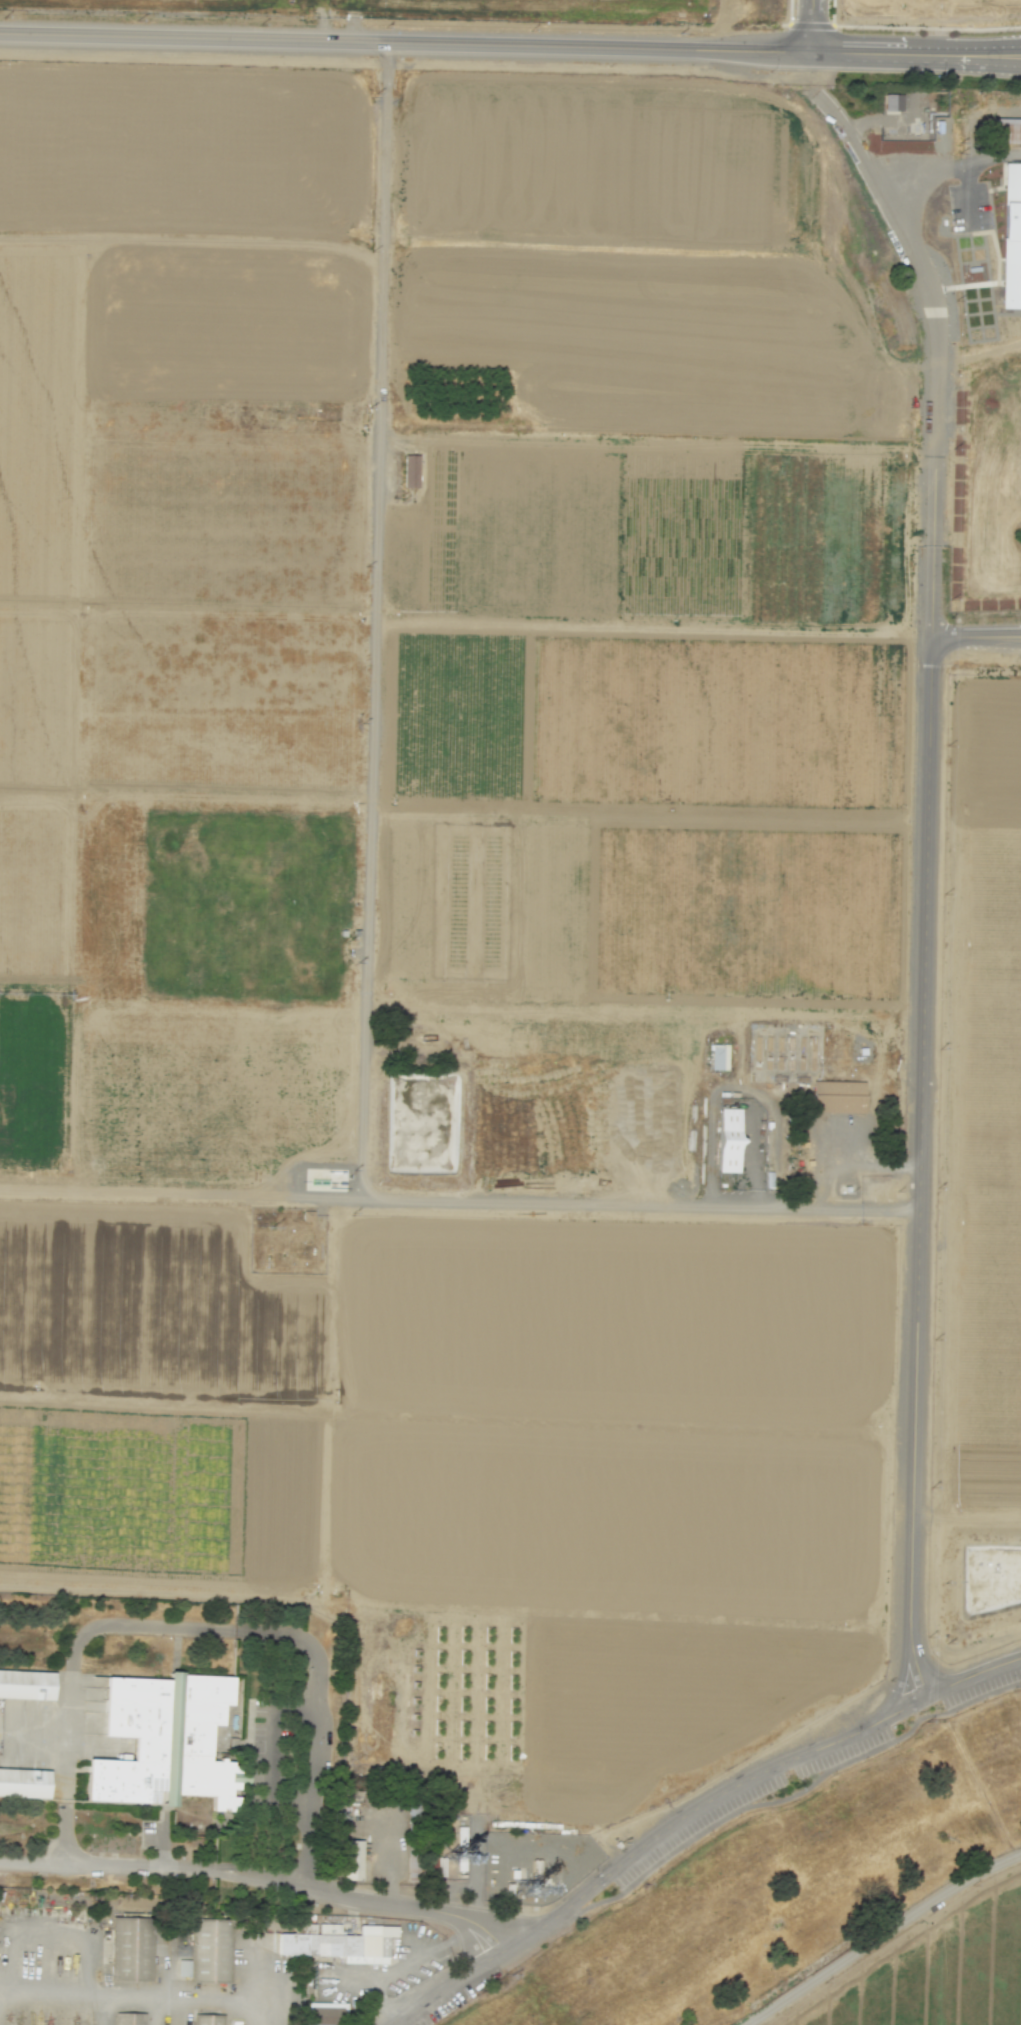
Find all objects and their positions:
road: (790, 12)
road: (811, 24)
road: (811, 25)
road: (914, 27)
road: (482, 42)
road: (1013, 42)
road: (992, 48)
road: (992, 60)
building: (892, 101)
road: (872, 120)
building: (1006, 130)
road: (947, 168)
parking lot: (970, 206)
building: (1011, 236)
road: (996, 248)
road: (932, 304)
road: (977, 341)
building: (410, 470)
road: (930, 591)
road: (371, 618)
road: (1005, 634)
road: (960, 636)
road: (1005, 640)
building: (719, 1056)
road: (736, 1085)
building: (838, 1096)
building: (728, 1139)
road: (923, 1169)
road: (461, 1199)
building: (26, 1684)
parking lot: (982, 1687)
road: (317, 1726)
road: (68, 1737)
building: (166, 1741)
road: (269, 1750)
parking lot: (843, 1751)
building: (25, 1782)
road: (781, 1800)
road: (687, 1812)
parking lot: (698, 1827)
building: (419, 1838)
building: (352, 1859)
building: (460, 1860)
road: (39, 1862)
building: (440, 1866)
road: (256, 1875)
road: (406, 1906)
road: (881, 1935)
building: (341, 1942)
building: (209, 1949)
building: (134, 1950)
crop: (940, 1970)
road: (76, 1994)
road: (210, 2001)
road: (153, 2011)
building: (326, 2013)
building: (131, 2019)
building: (207, 2019)

